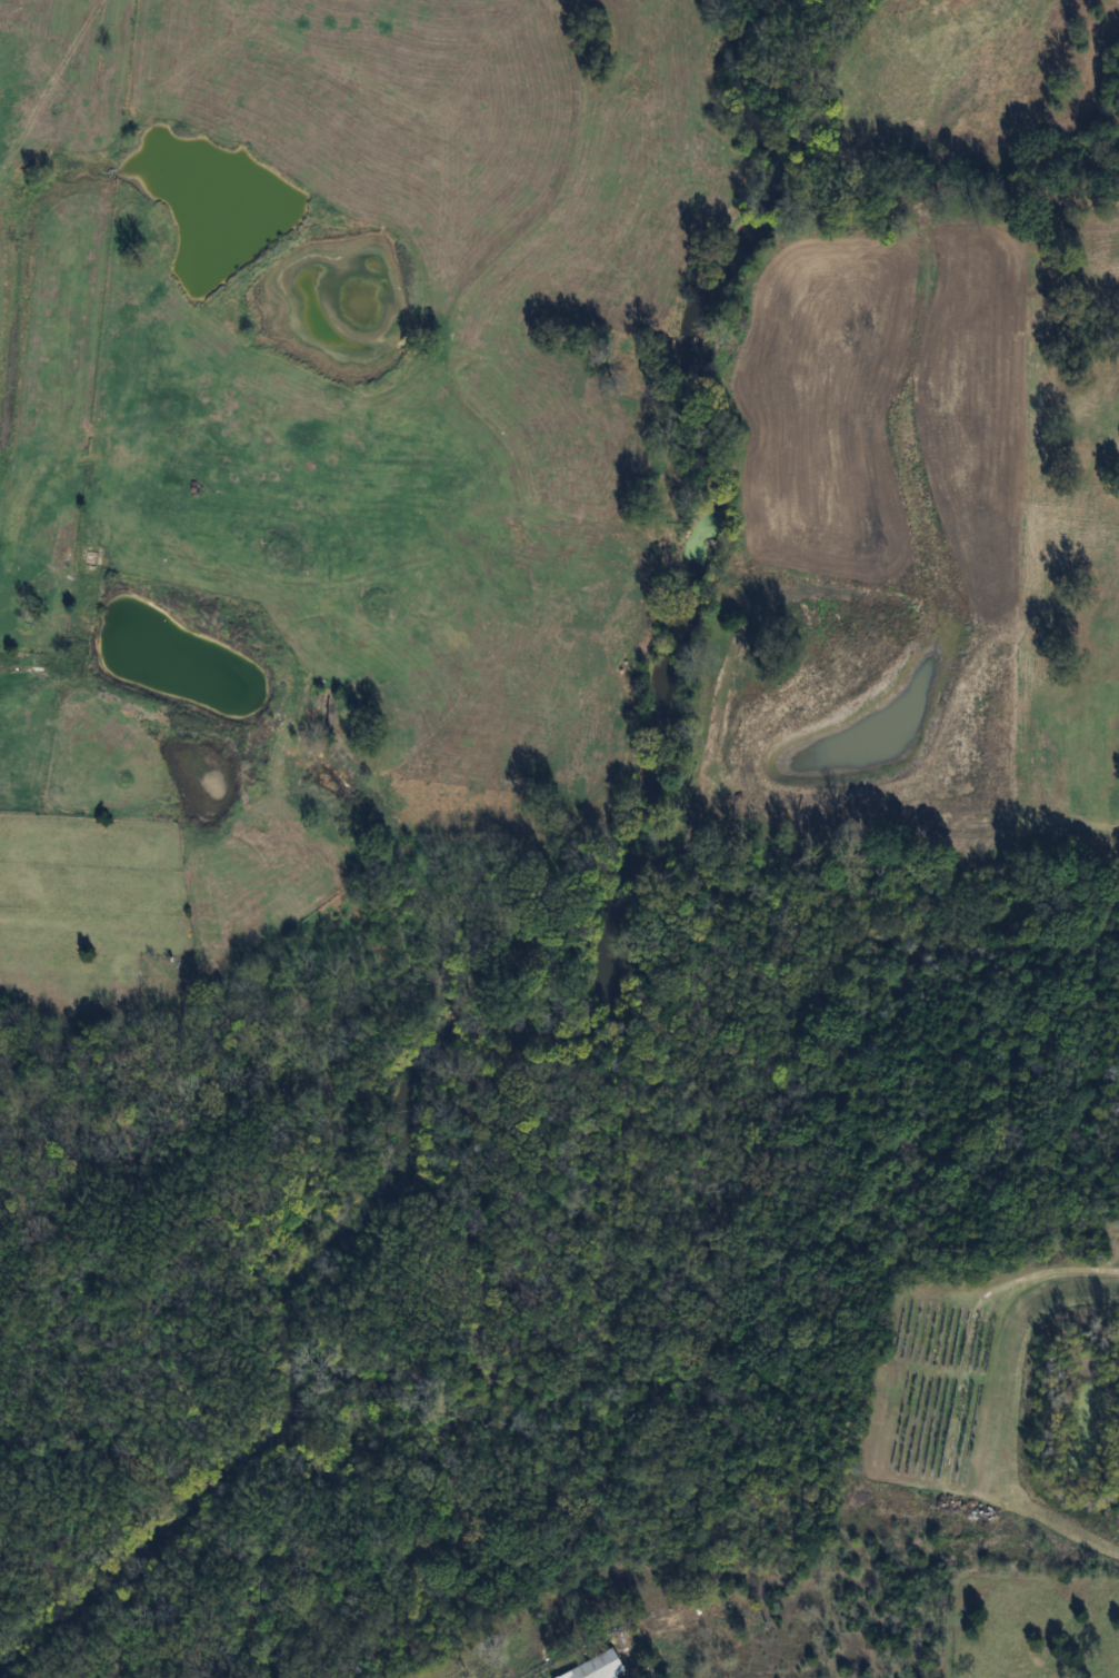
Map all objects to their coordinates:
building: (68, 560)
building: (598, 1667)

